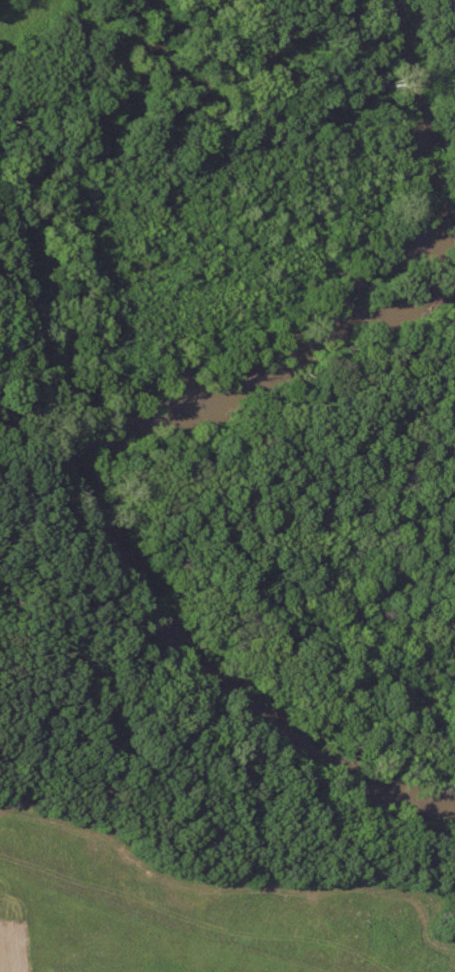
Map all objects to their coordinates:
river: (152, 419)

